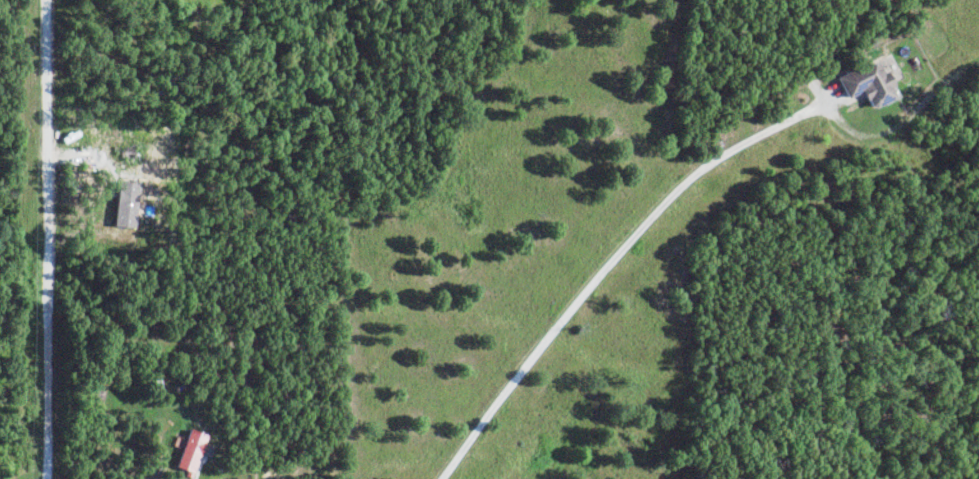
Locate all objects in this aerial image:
building: (870, 84)
road: (48, 239)
road: (606, 264)
building: (193, 452)

